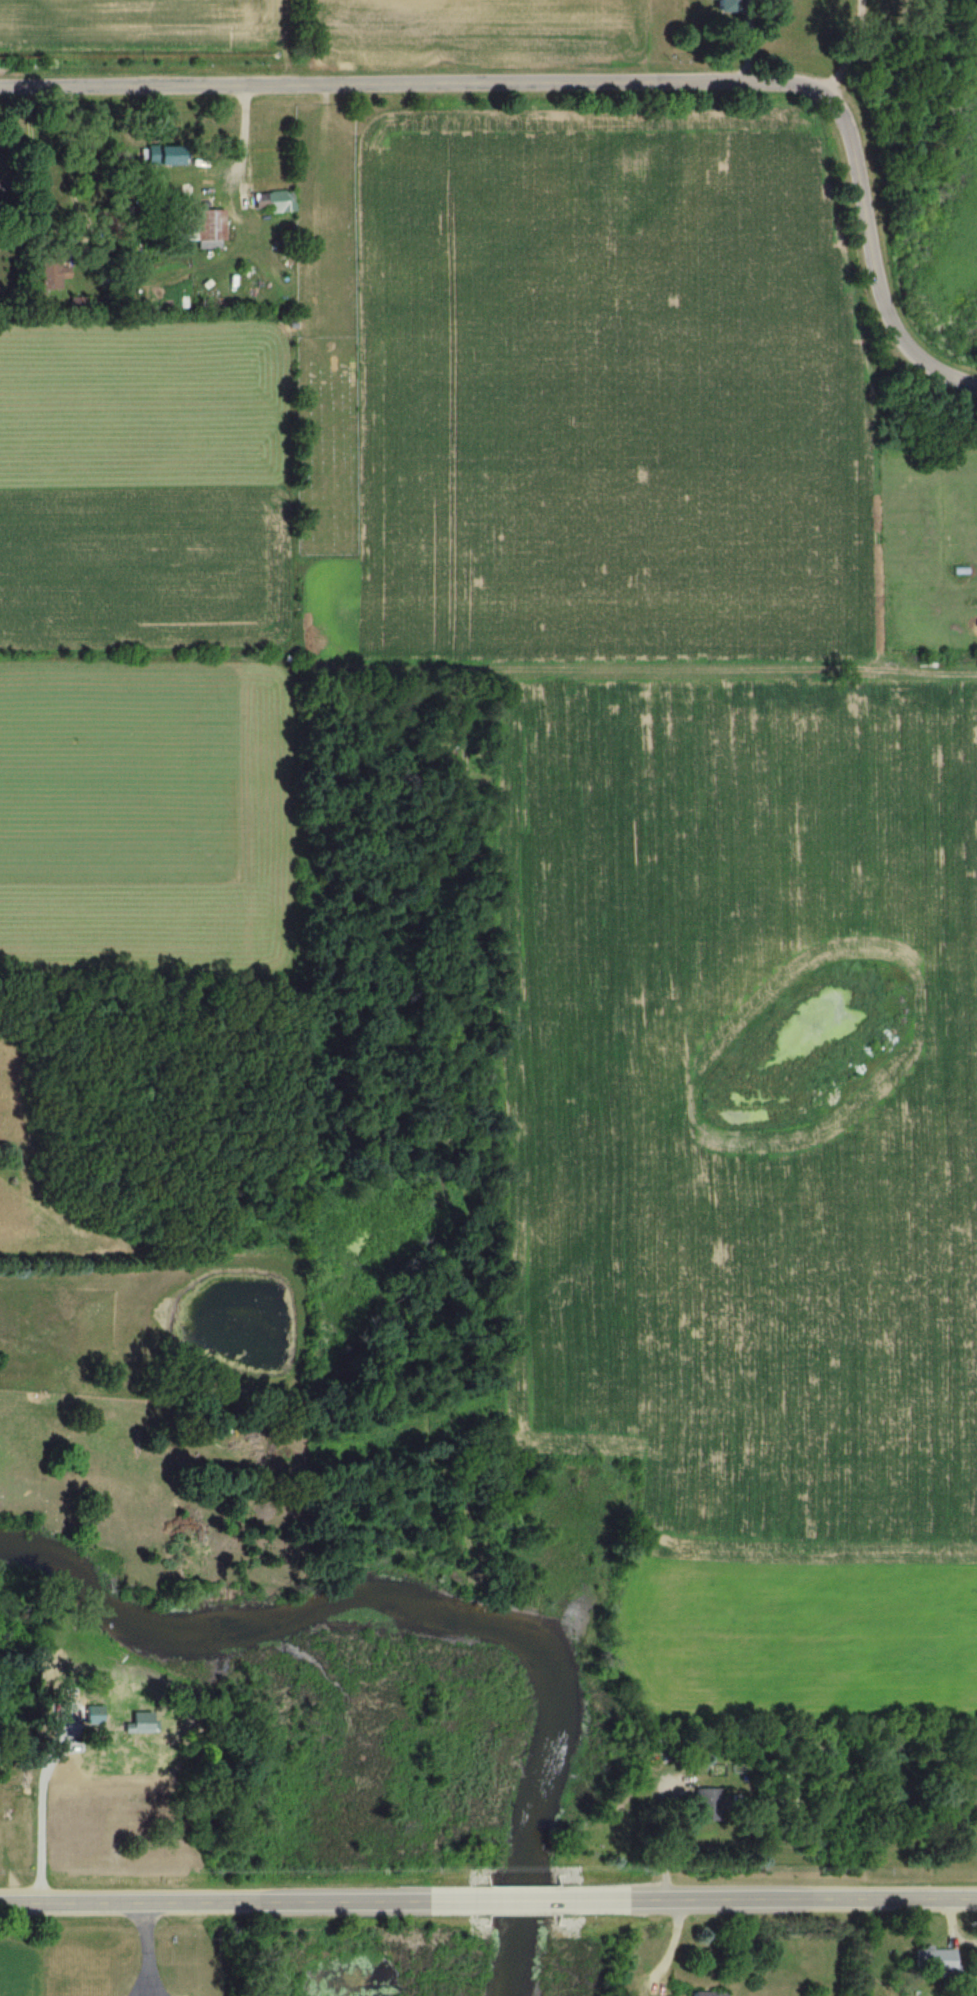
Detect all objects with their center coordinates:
building: (721, 7)
road: (590, 77)
building: (159, 155)
building: (271, 201)
building: (206, 229)
building: (47, 270)
building: (73, 304)
road: (188, 1245)
river: (439, 1612)
building: (707, 1804)
road: (40, 1825)
road: (660, 1833)
road: (766, 1897)
road: (526, 1900)
road: (248, 1902)
road: (143, 1948)
road: (665, 1948)
building: (973, 1958)
building: (932, 1962)
building: (706, 1993)
road: (143, 1995)
road: (146, 1995)
building: (809, 1995)

